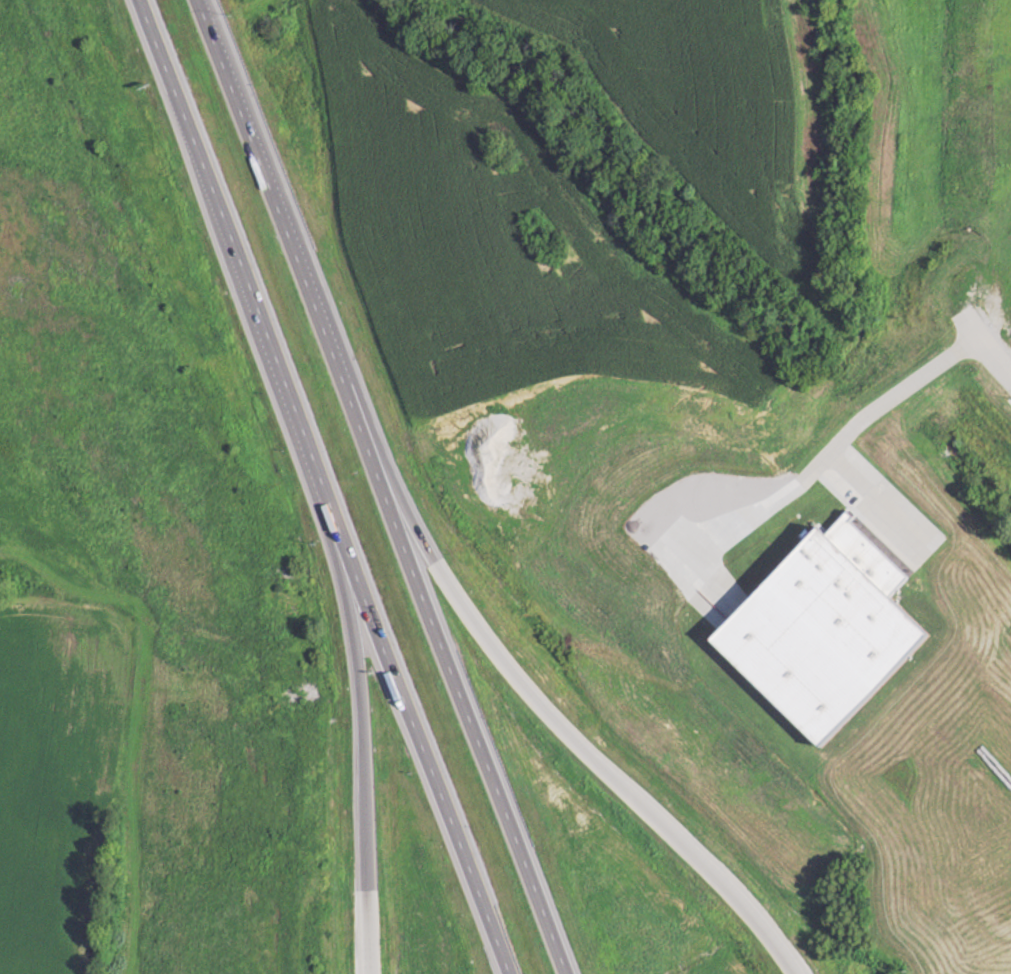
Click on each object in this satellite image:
road: (382, 486)
road: (322, 487)
road: (580, 742)
road: (362, 772)

